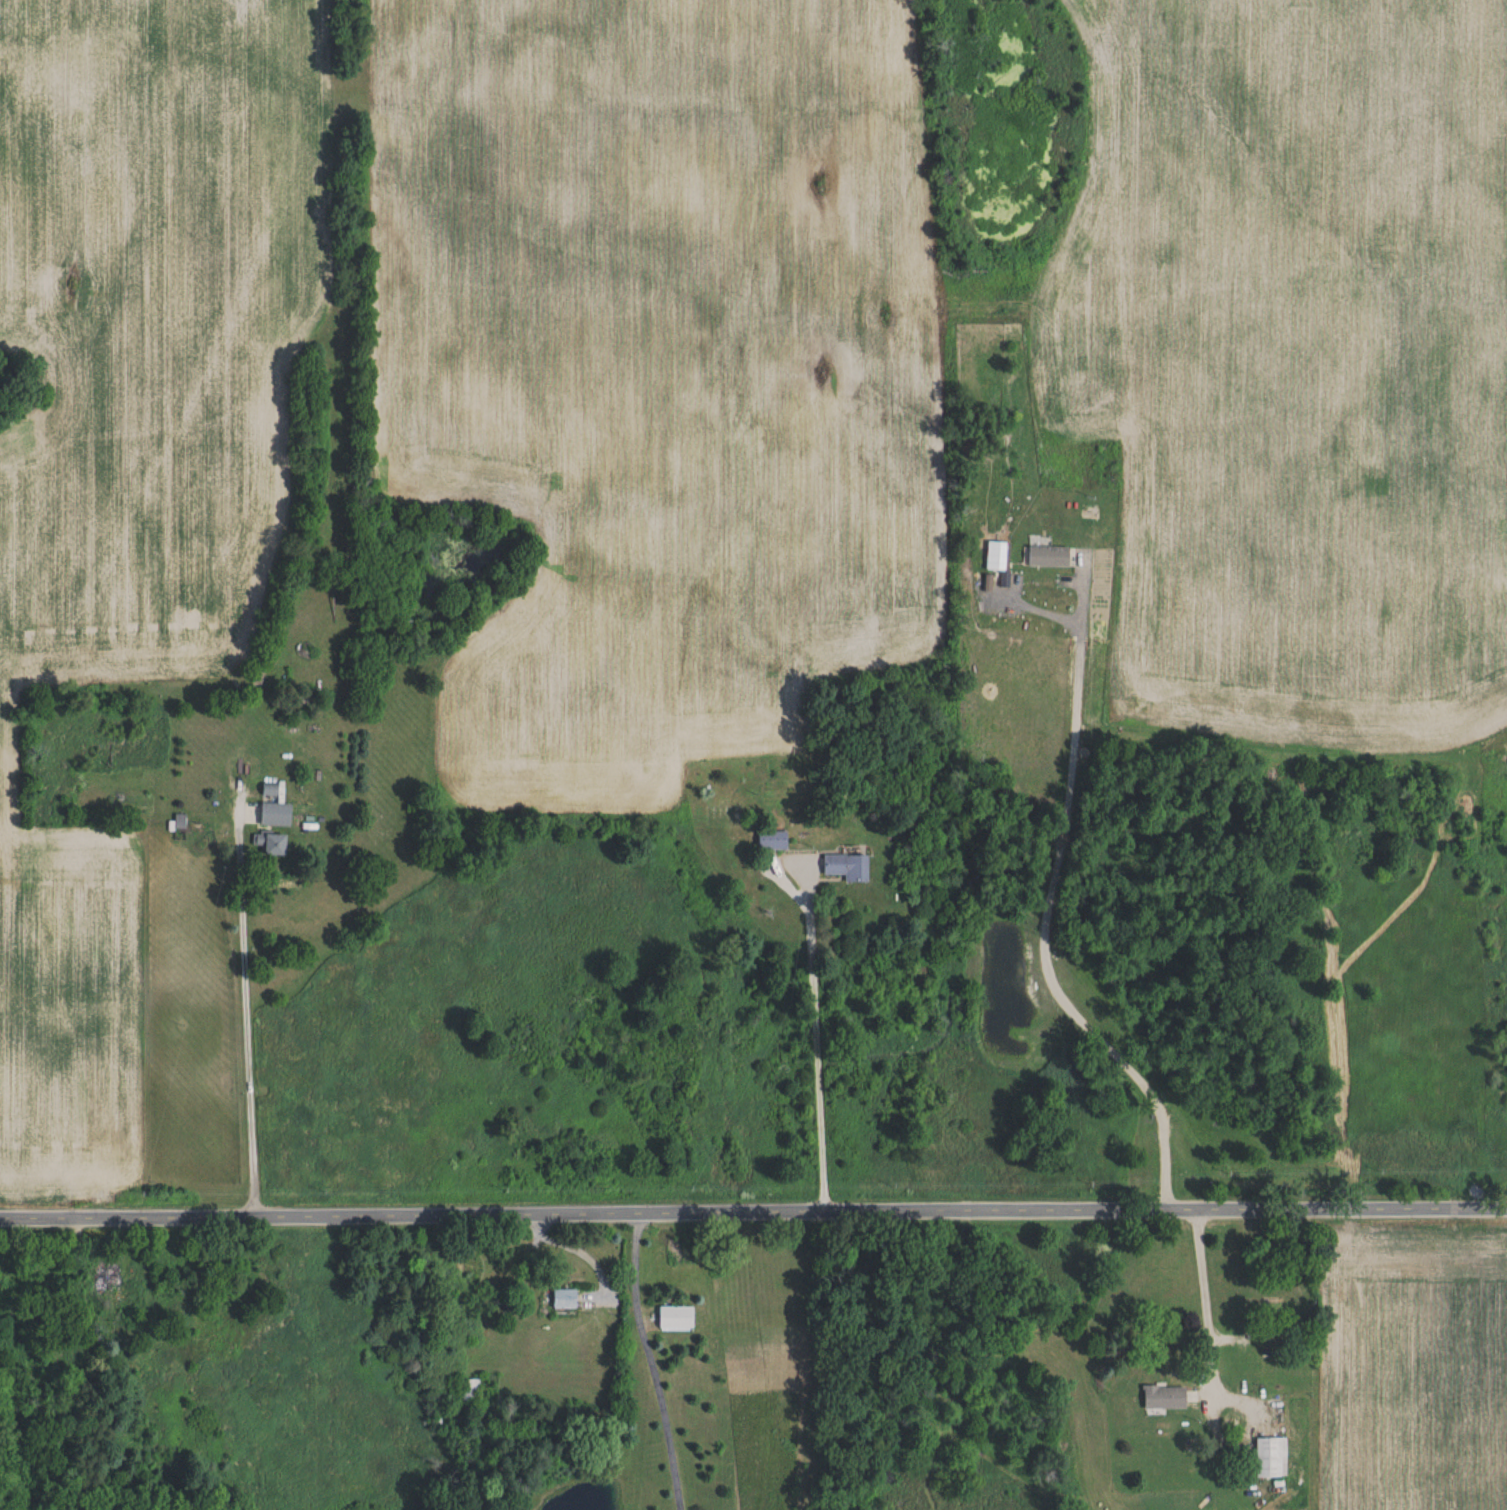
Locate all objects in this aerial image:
building: (998, 556)
building: (1049, 558)
building: (277, 807)
building: (723, 816)
building: (181, 822)
building: (774, 841)
building: (273, 845)
building: (849, 868)
road: (1044, 919)
road: (252, 1021)
road: (817, 1043)
road: (753, 1215)
road: (578, 1247)
building: (110, 1273)
building: (565, 1300)
road: (1204, 1306)
building: (1291, 1307)
building: (676, 1318)
road: (650, 1362)
building: (467, 1391)
building: (1165, 1398)
building: (1271, 1458)

